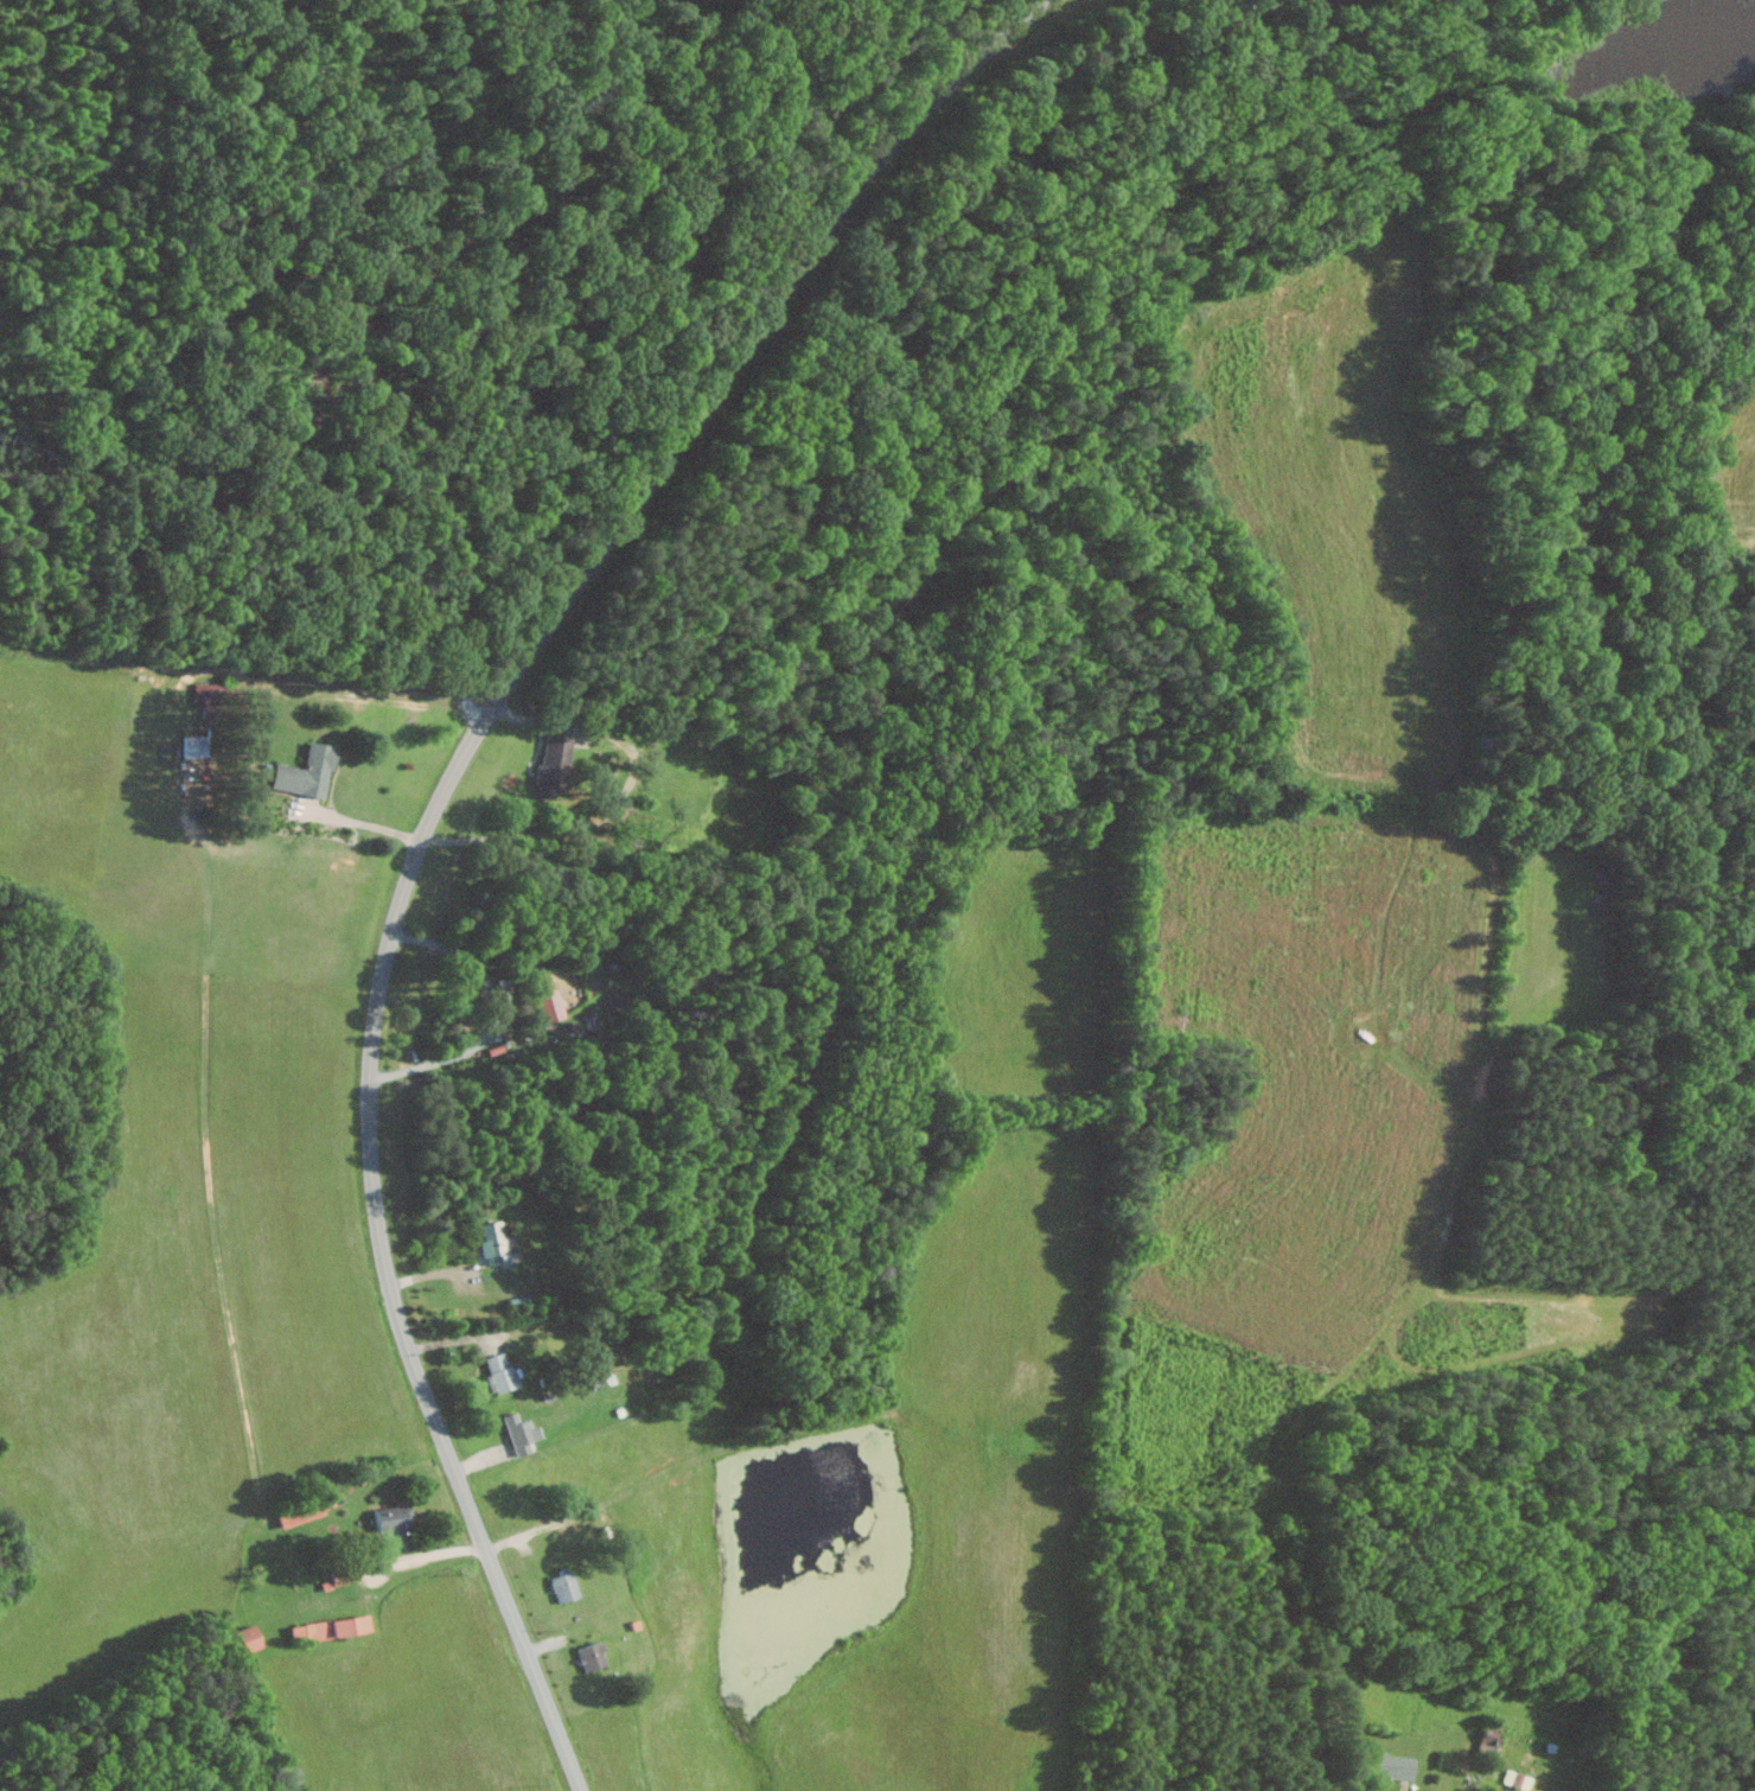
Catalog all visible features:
road: (362, 370)
building: (197, 745)
building: (556, 761)
building: (309, 771)
road: (618, 802)
road: (438, 814)
road: (364, 823)
building: (548, 994)
road: (496, 1013)
building: (496, 1242)
building: (503, 1373)
building: (523, 1432)
building: (396, 1518)
road: (429, 1554)
building: (567, 1587)
building: (333, 1627)
building: (253, 1638)
building: (595, 1656)
building: (1398, 1766)
road: (1404, 1789)

